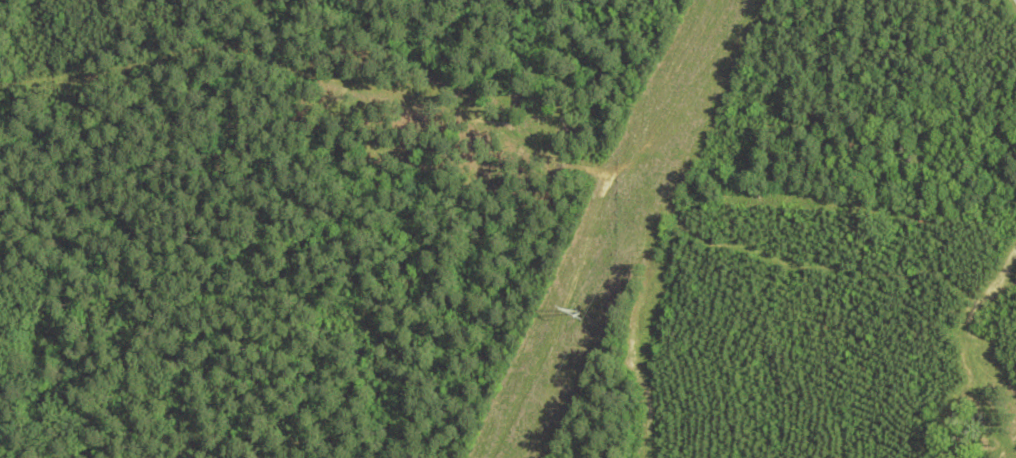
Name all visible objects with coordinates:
road: (992, 290)
power tower: (575, 313)

